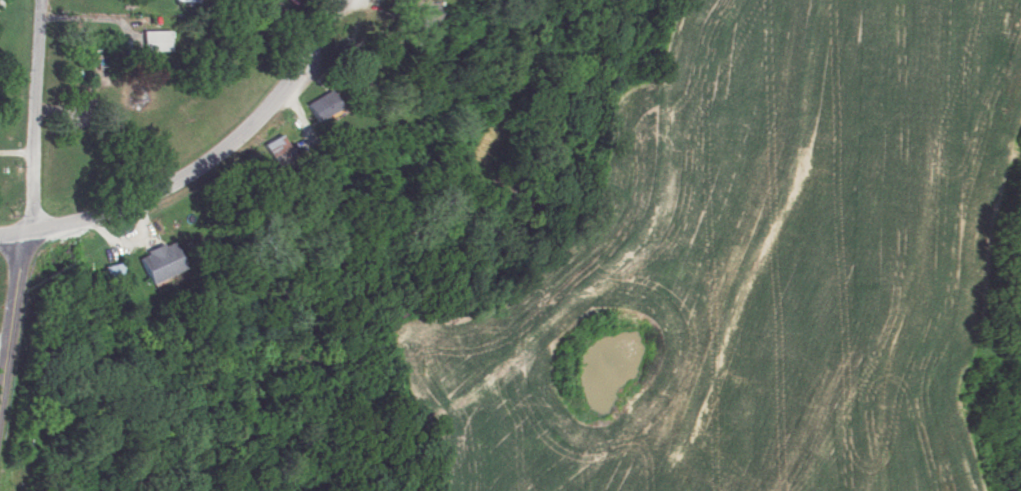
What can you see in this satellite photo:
building: (187, 1)
building: (420, 20)
building: (153, 41)
road: (34, 116)
road: (16, 151)
road: (215, 177)
building: (158, 263)
building: (111, 274)
road: (12, 307)
road: (4, 333)

